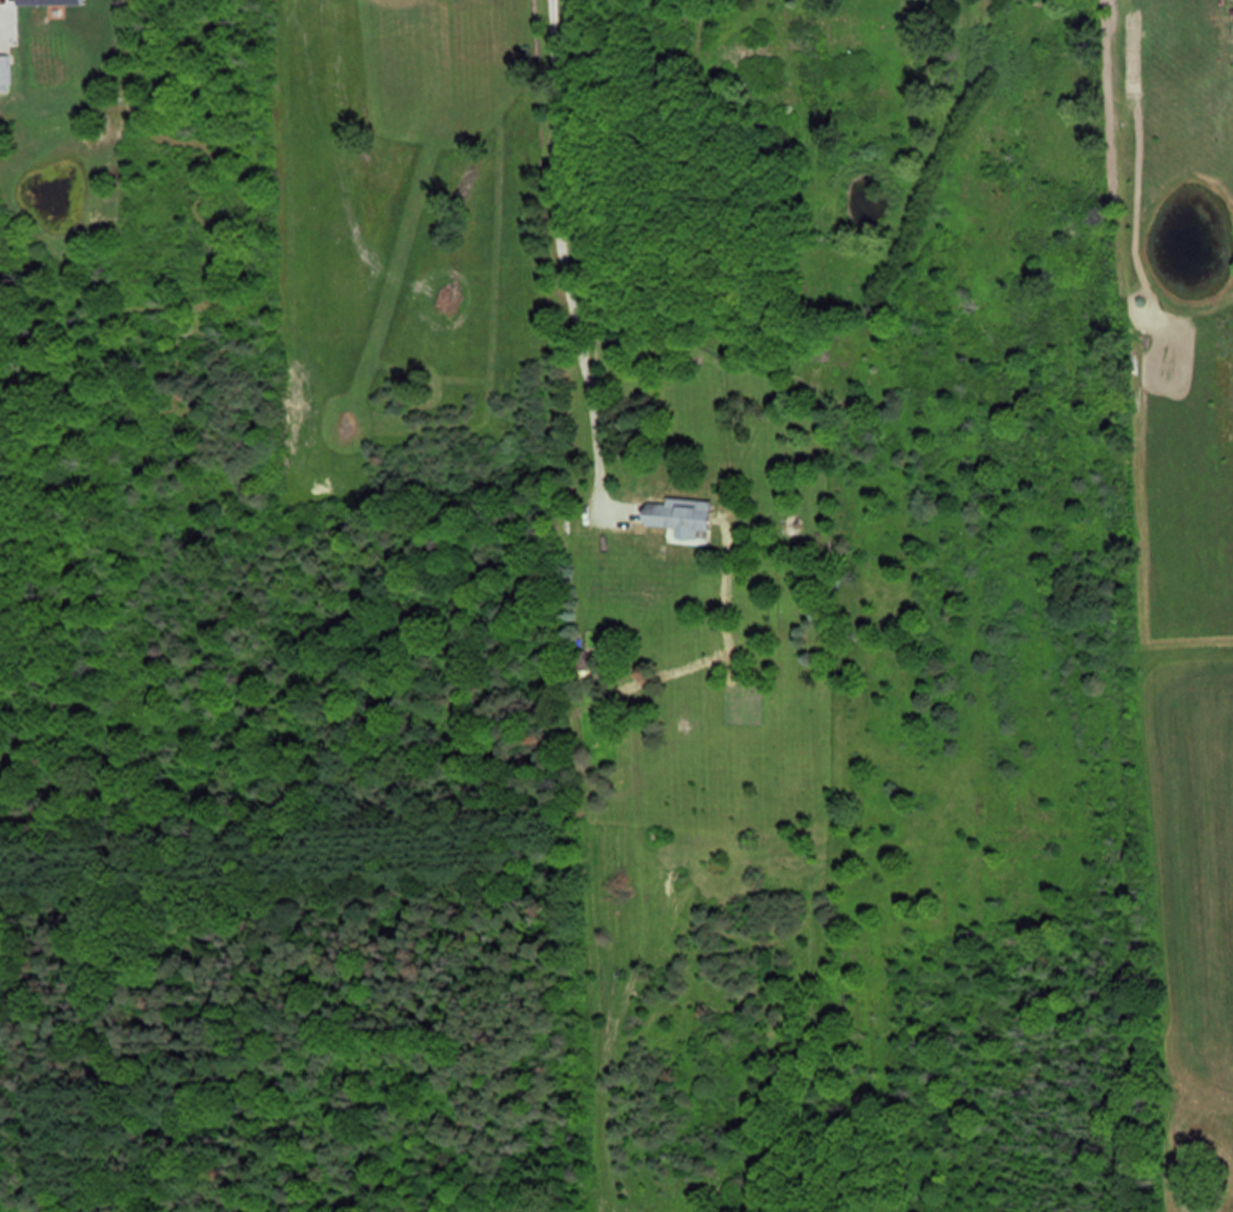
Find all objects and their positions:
building: (61, 2)
building: (7, 71)
building: (686, 513)

